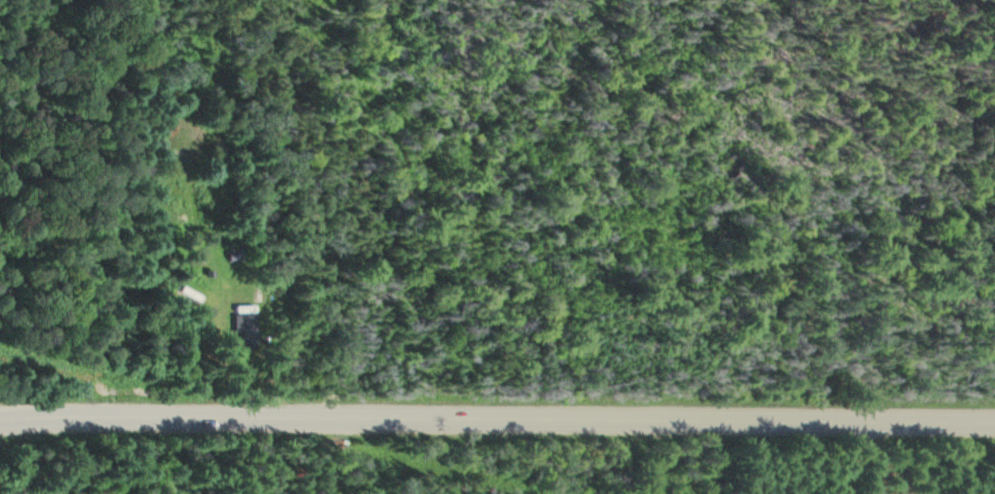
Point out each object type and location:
building: (247, 332)
road: (497, 420)

